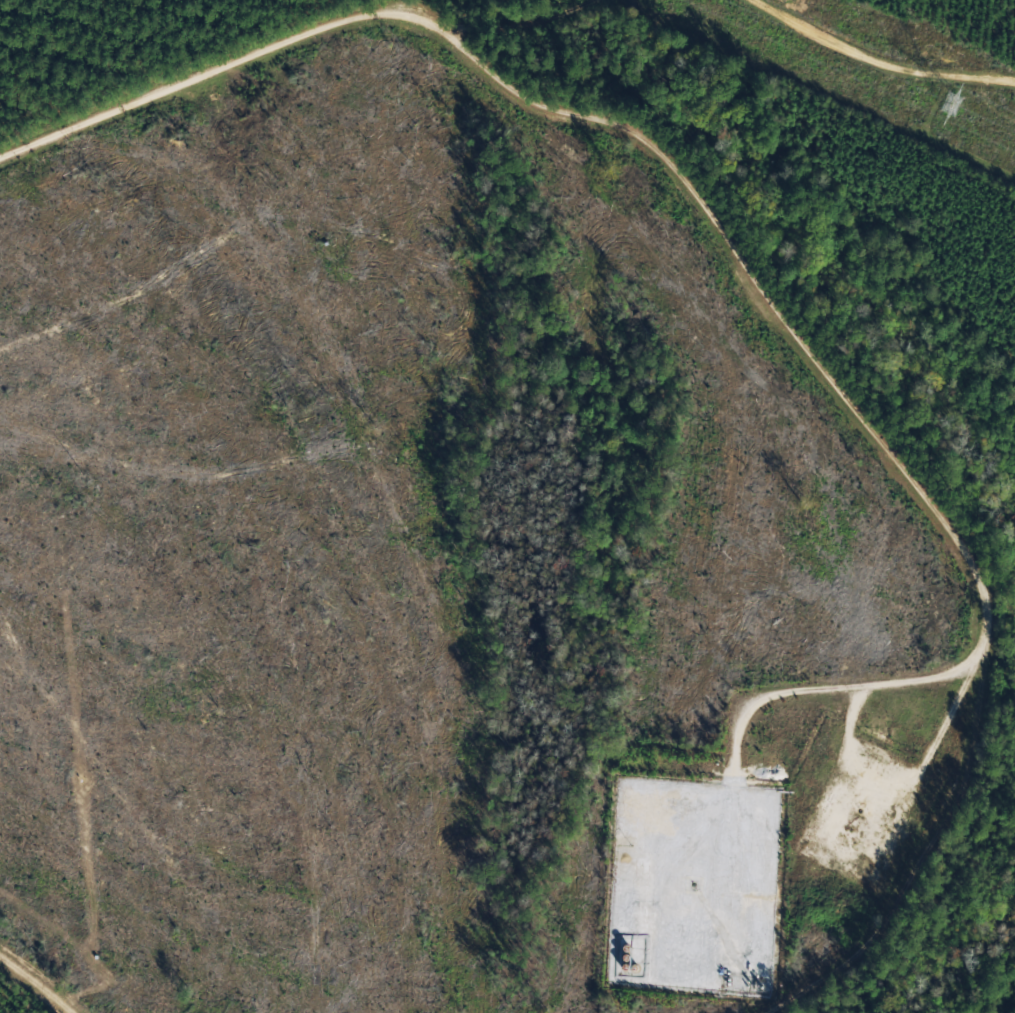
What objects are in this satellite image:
road: (574, 18)
road: (887, 41)
power tower: (955, 104)
road: (761, 284)
road: (36, 984)

